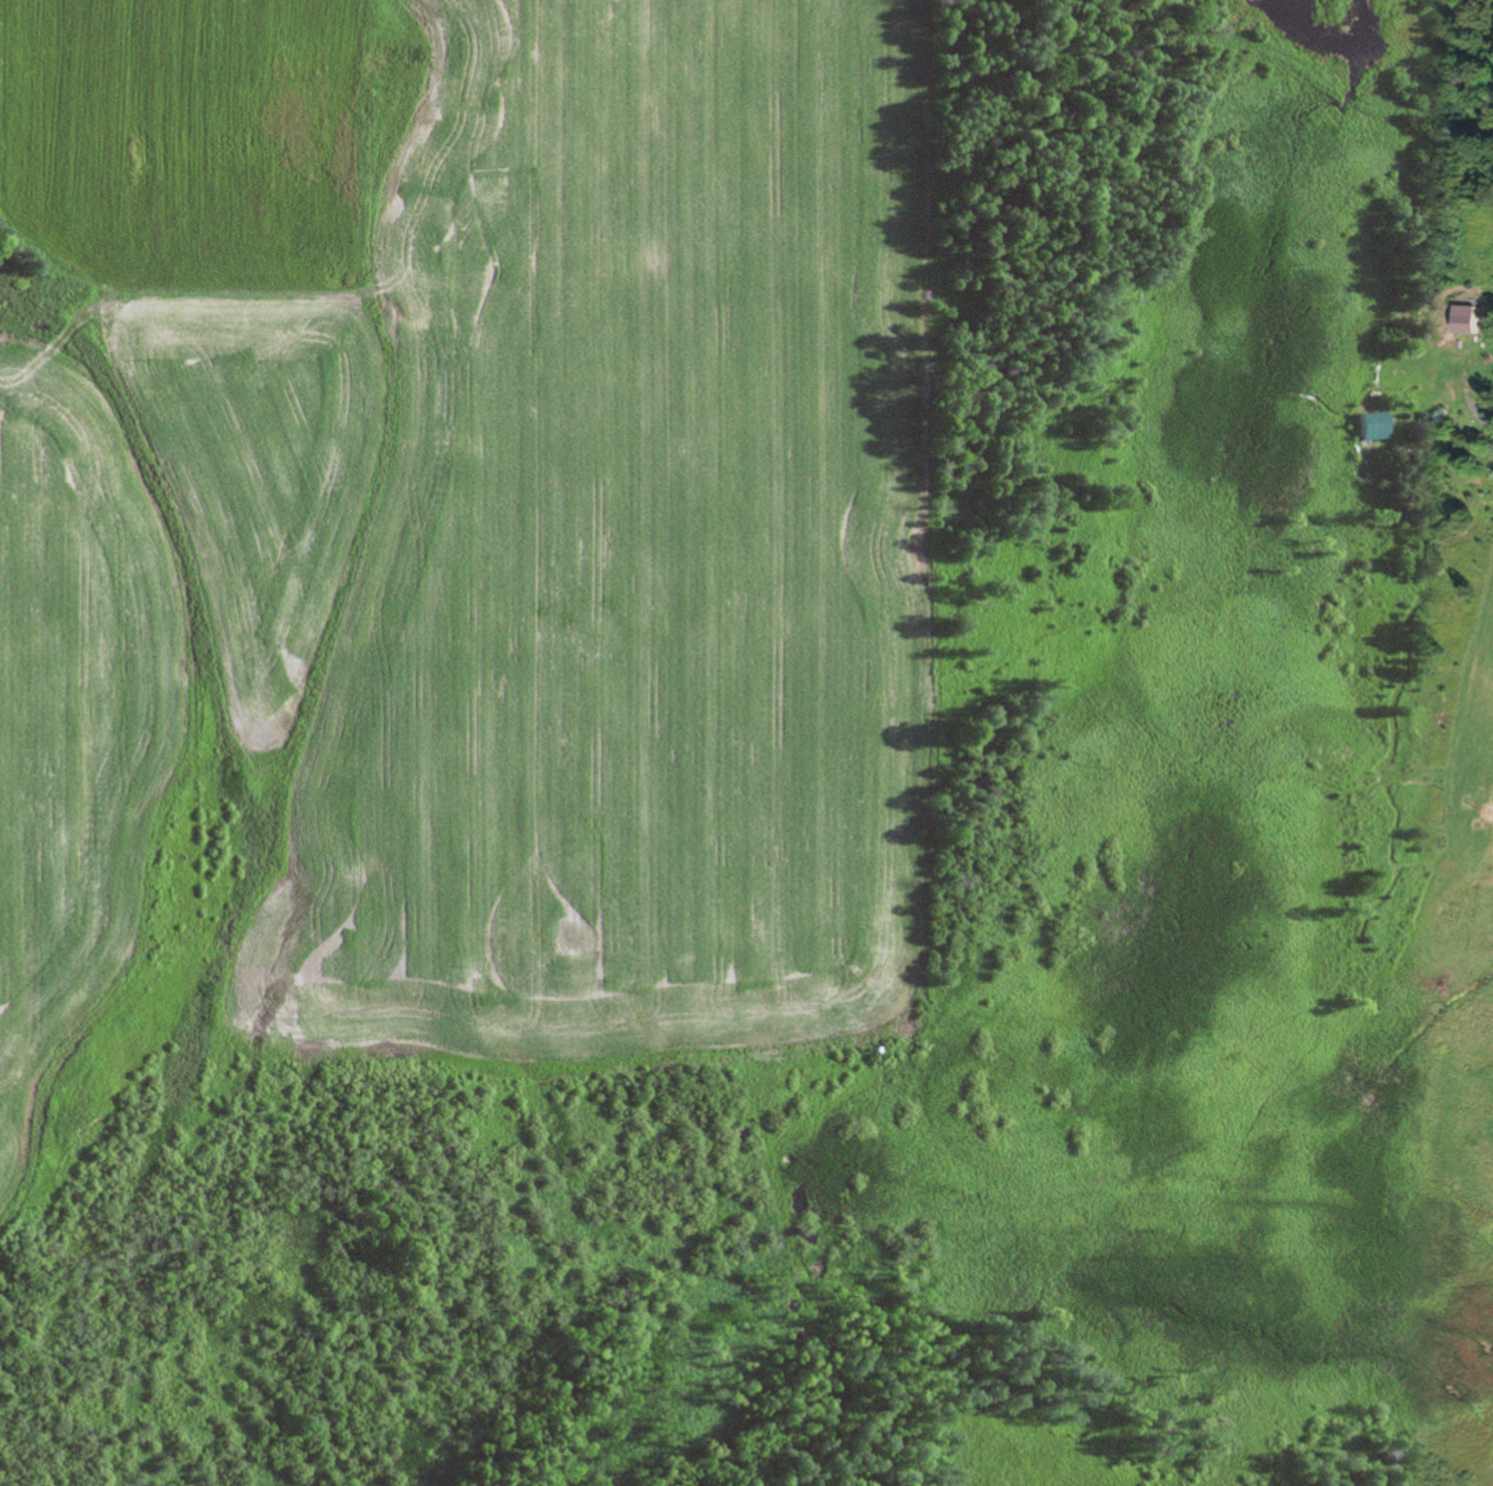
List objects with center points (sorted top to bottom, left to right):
building: (1435, 419)
building: (1372, 429)

